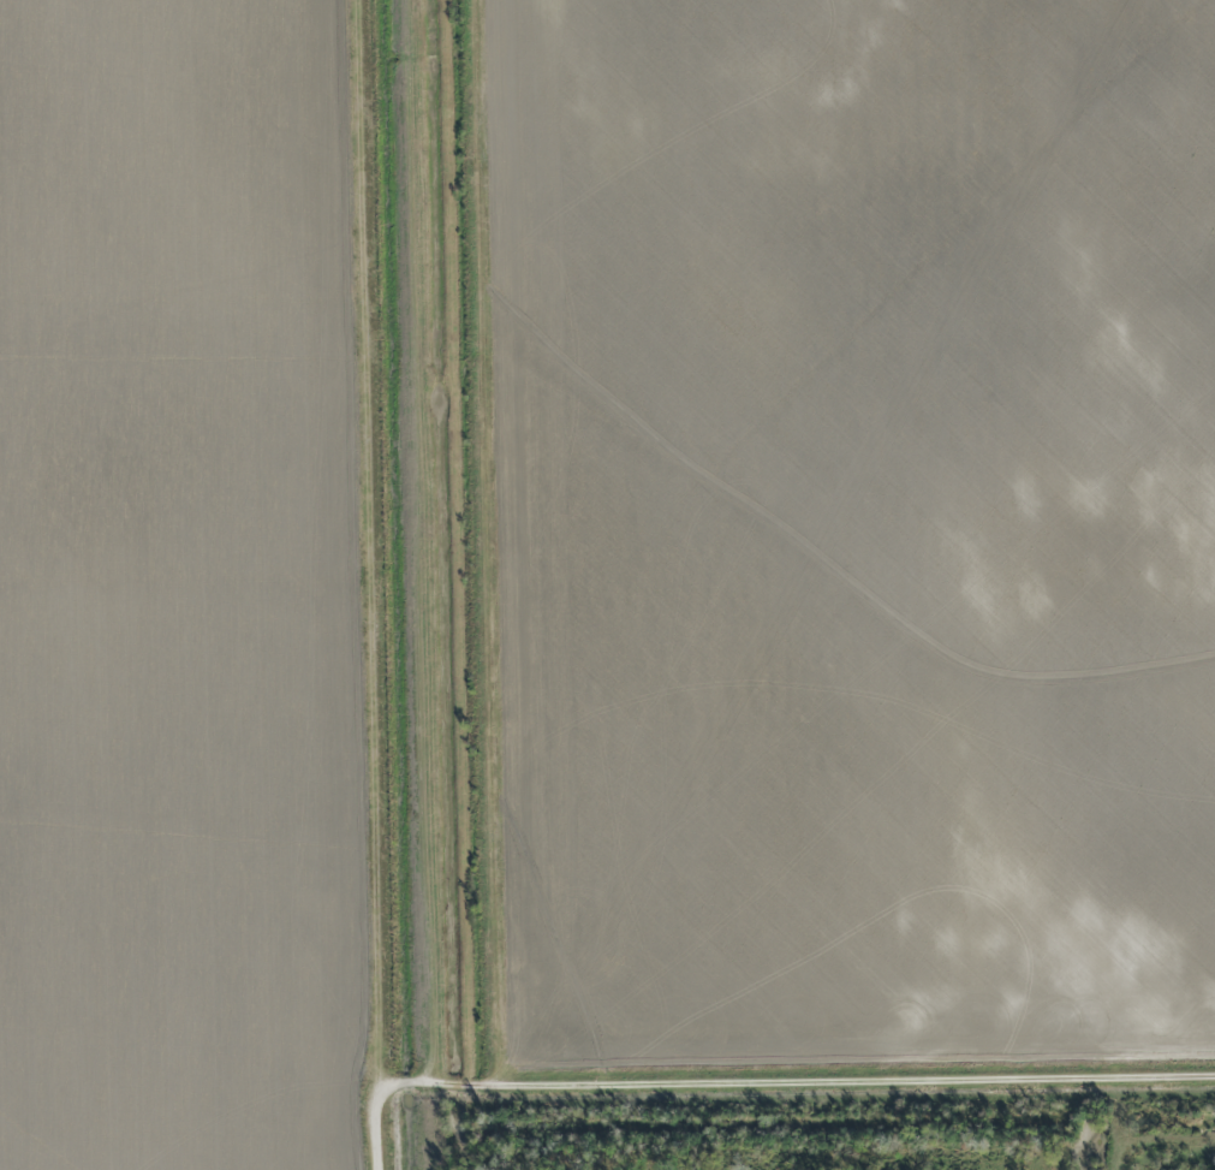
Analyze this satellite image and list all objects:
road: (731, 1086)
road: (1144, 1097)

